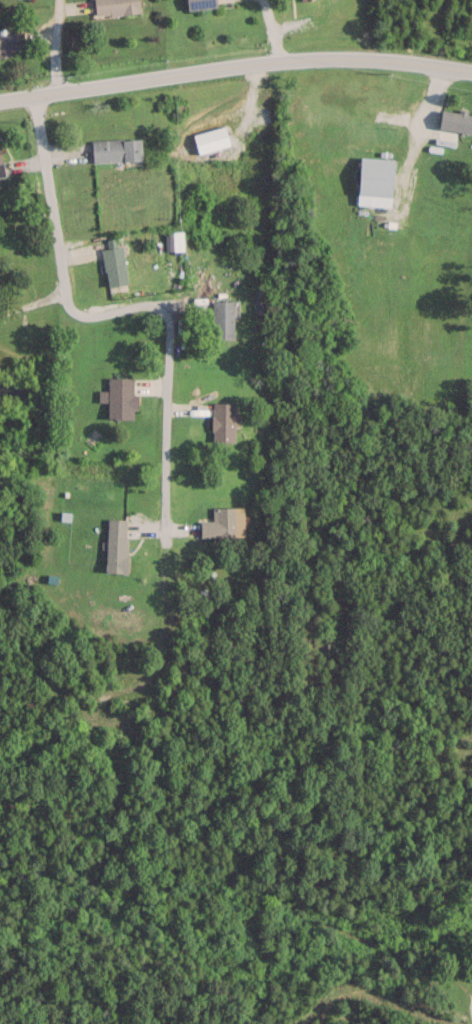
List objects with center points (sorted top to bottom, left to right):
building: (304, 0)
building: (201, 4)
building: (115, 7)
building: (12, 40)
road: (58, 46)
road: (235, 66)
building: (455, 120)
building: (117, 148)
building: (1, 160)
building: (376, 178)
building: (114, 265)
road: (31, 303)
road: (129, 309)
building: (223, 319)
building: (119, 397)
building: (223, 421)
building: (224, 522)
building: (116, 545)
road: (471, 1004)

